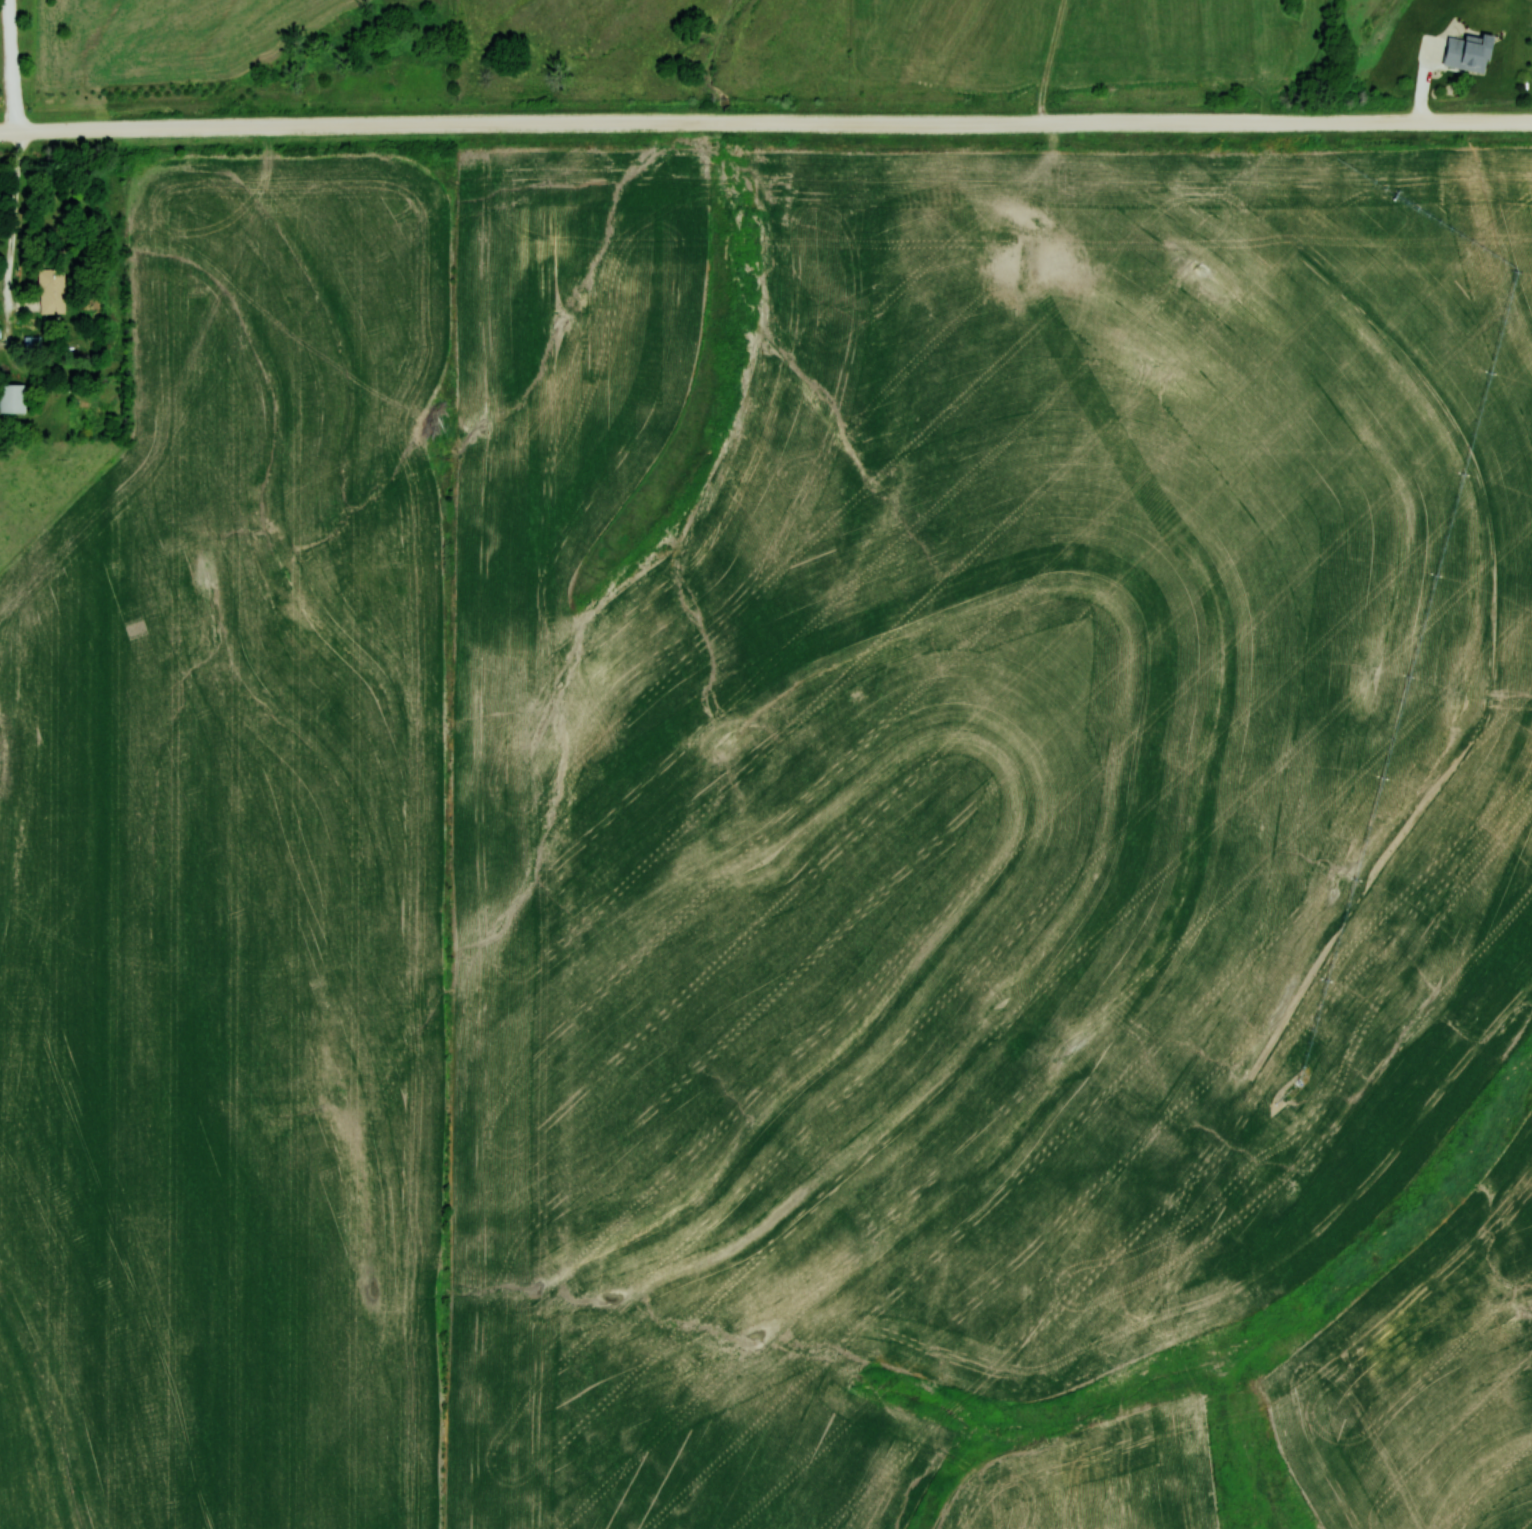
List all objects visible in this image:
building: (1467, 52)
road: (765, 123)
road: (14, 226)
building: (52, 290)
building: (12, 399)

